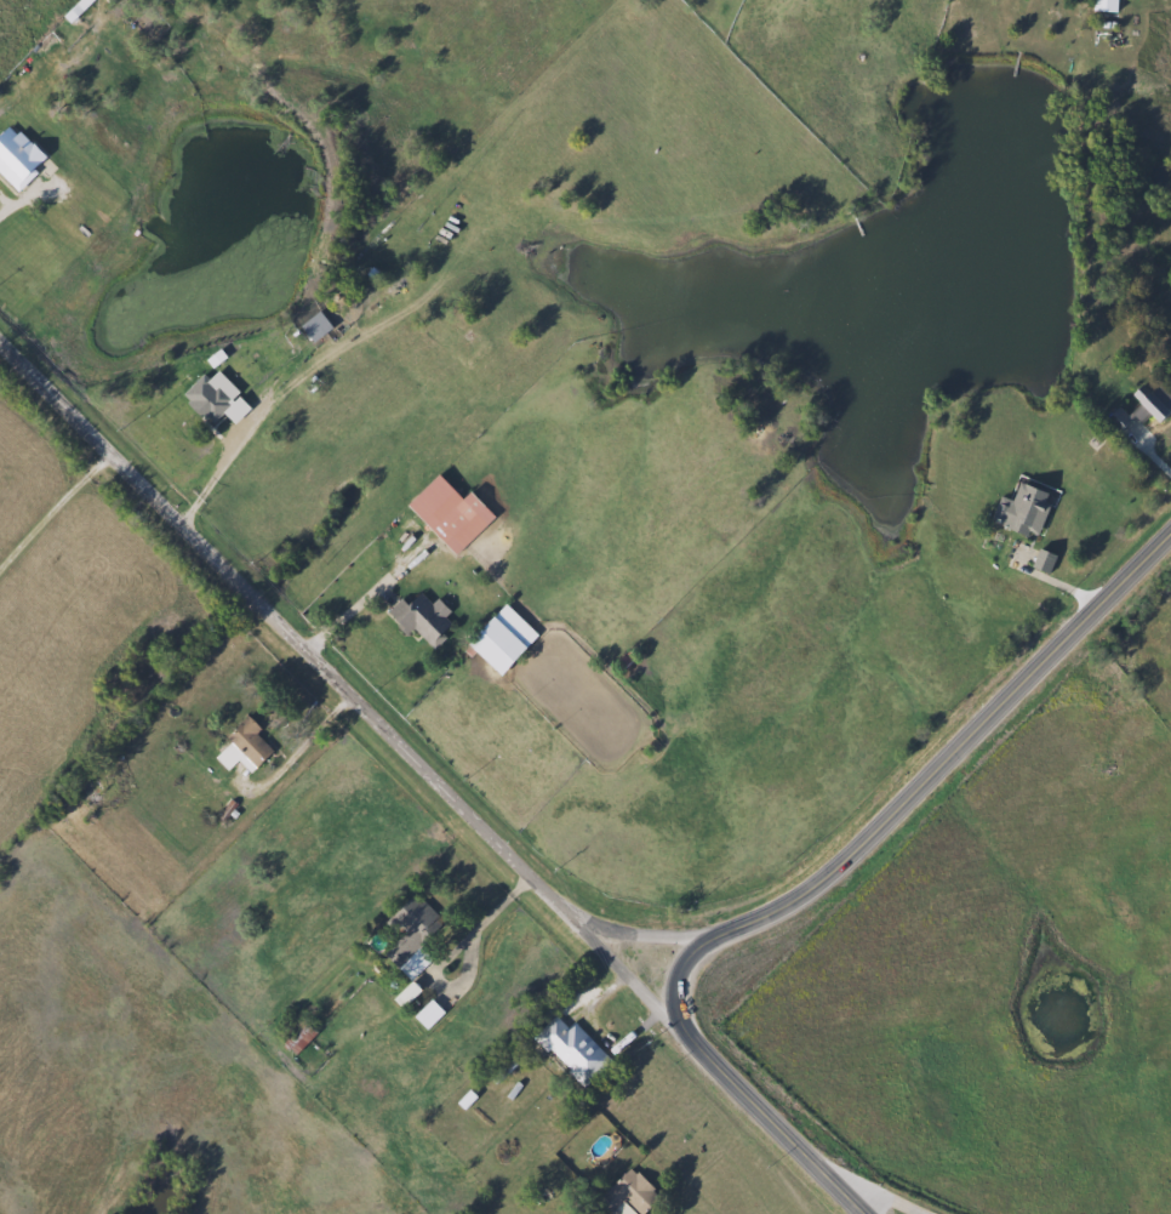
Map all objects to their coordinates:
building: (16, 158)
road: (27, 195)
road: (56, 512)
building: (1022, 512)
building: (458, 520)
road: (1063, 589)
road: (369, 599)
building: (419, 619)
building: (499, 640)
road: (343, 683)
road: (312, 739)
road: (962, 743)
building: (241, 748)
road: (479, 933)
road: (649, 934)
road: (607, 996)
building: (427, 1014)
building: (296, 1036)
building: (570, 1050)
road: (721, 1072)
building: (924, 1100)
building: (626, 1192)
road: (875, 1195)

